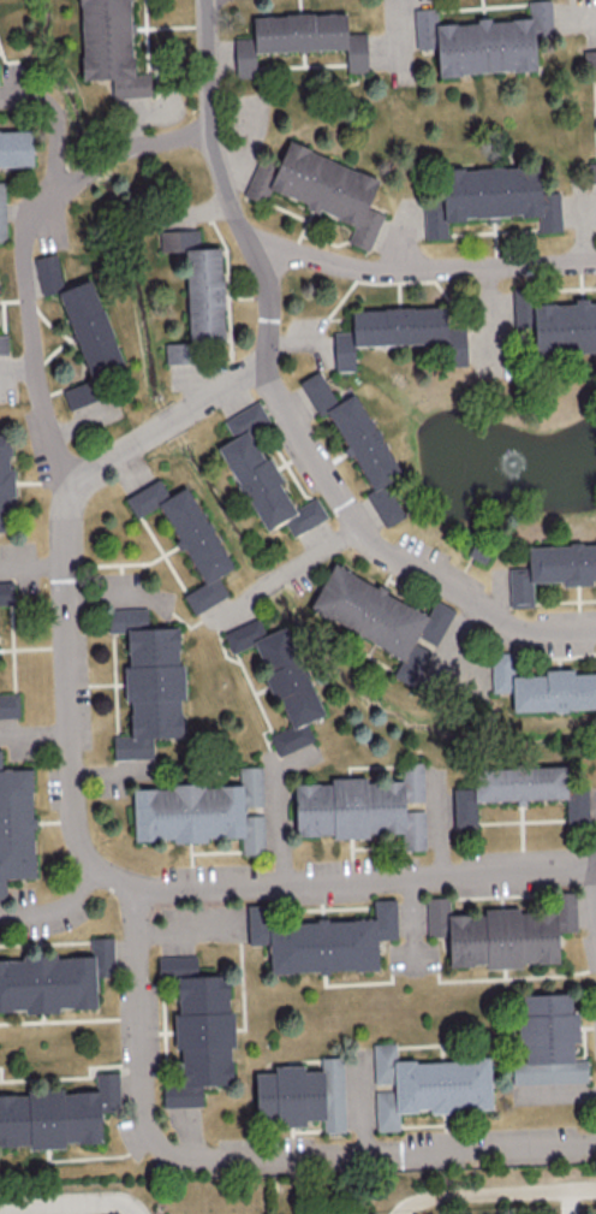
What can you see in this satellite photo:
road: (585, 16)
road: (392, 31)
building: (299, 39)
building: (483, 40)
building: (109, 46)
building: (589, 59)
road: (58, 122)
building: (16, 147)
building: (591, 171)
building: (320, 189)
building: (490, 199)
building: (2, 213)
road: (585, 231)
road: (398, 237)
road: (24, 251)
road: (419, 270)
building: (196, 292)
building: (521, 312)
building: (565, 327)
building: (82, 330)
building: (403, 332)
building: (2, 344)
building: (359, 445)
building: (262, 475)
building: (5, 480)
building: (186, 538)
road: (387, 555)
road: (32, 568)
building: (552, 569)
road: (285, 570)
building: (6, 592)
building: (382, 618)
road: (67, 628)
building: (280, 680)
building: (148, 681)
building: (542, 686)
building: (8, 705)
building: (517, 790)
building: (363, 806)
building: (201, 811)
building: (16, 825)
road: (592, 861)
road: (591, 895)
road: (55, 911)
building: (501, 932)
building: (322, 940)
building: (175, 964)
building: (54, 979)
building: (201, 1037)
building: (547, 1040)
building: (427, 1085)
building: (302, 1095)
building: (56, 1114)
road: (239, 1156)
road: (500, 1195)
road: (68, 1206)
road: (405, 1212)

